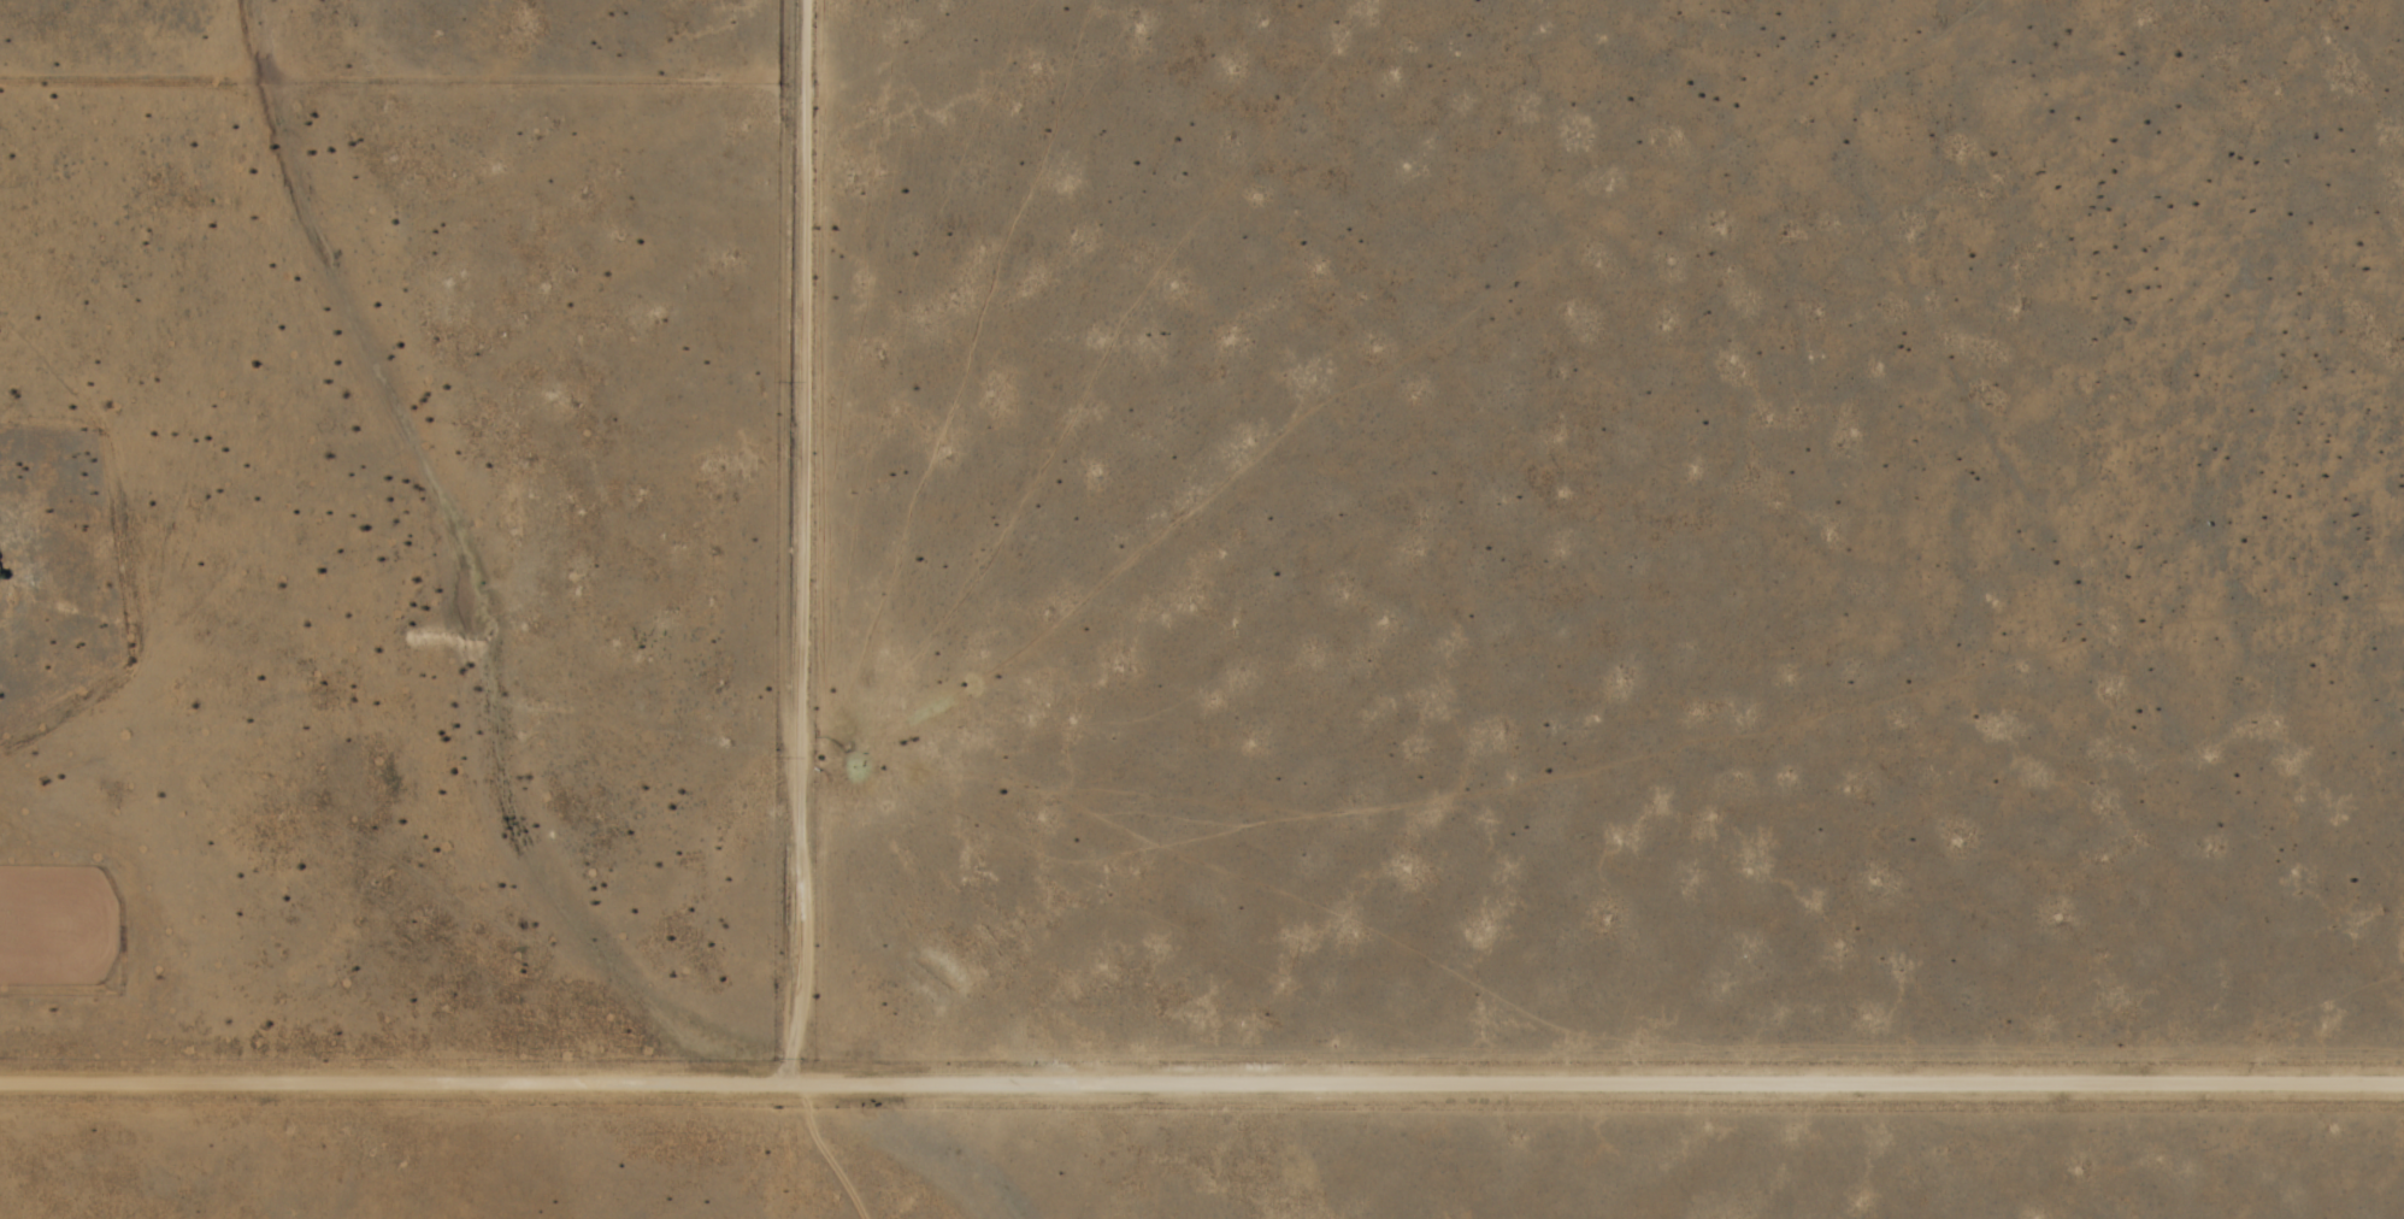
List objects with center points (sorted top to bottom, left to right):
road: (788, 544)
road: (1202, 1090)

